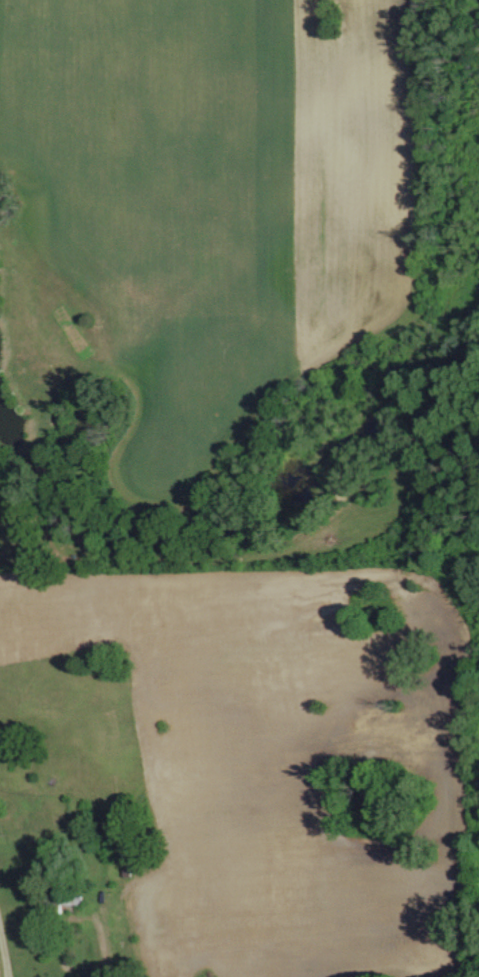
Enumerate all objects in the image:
building: (64, 904)
road: (6, 939)

